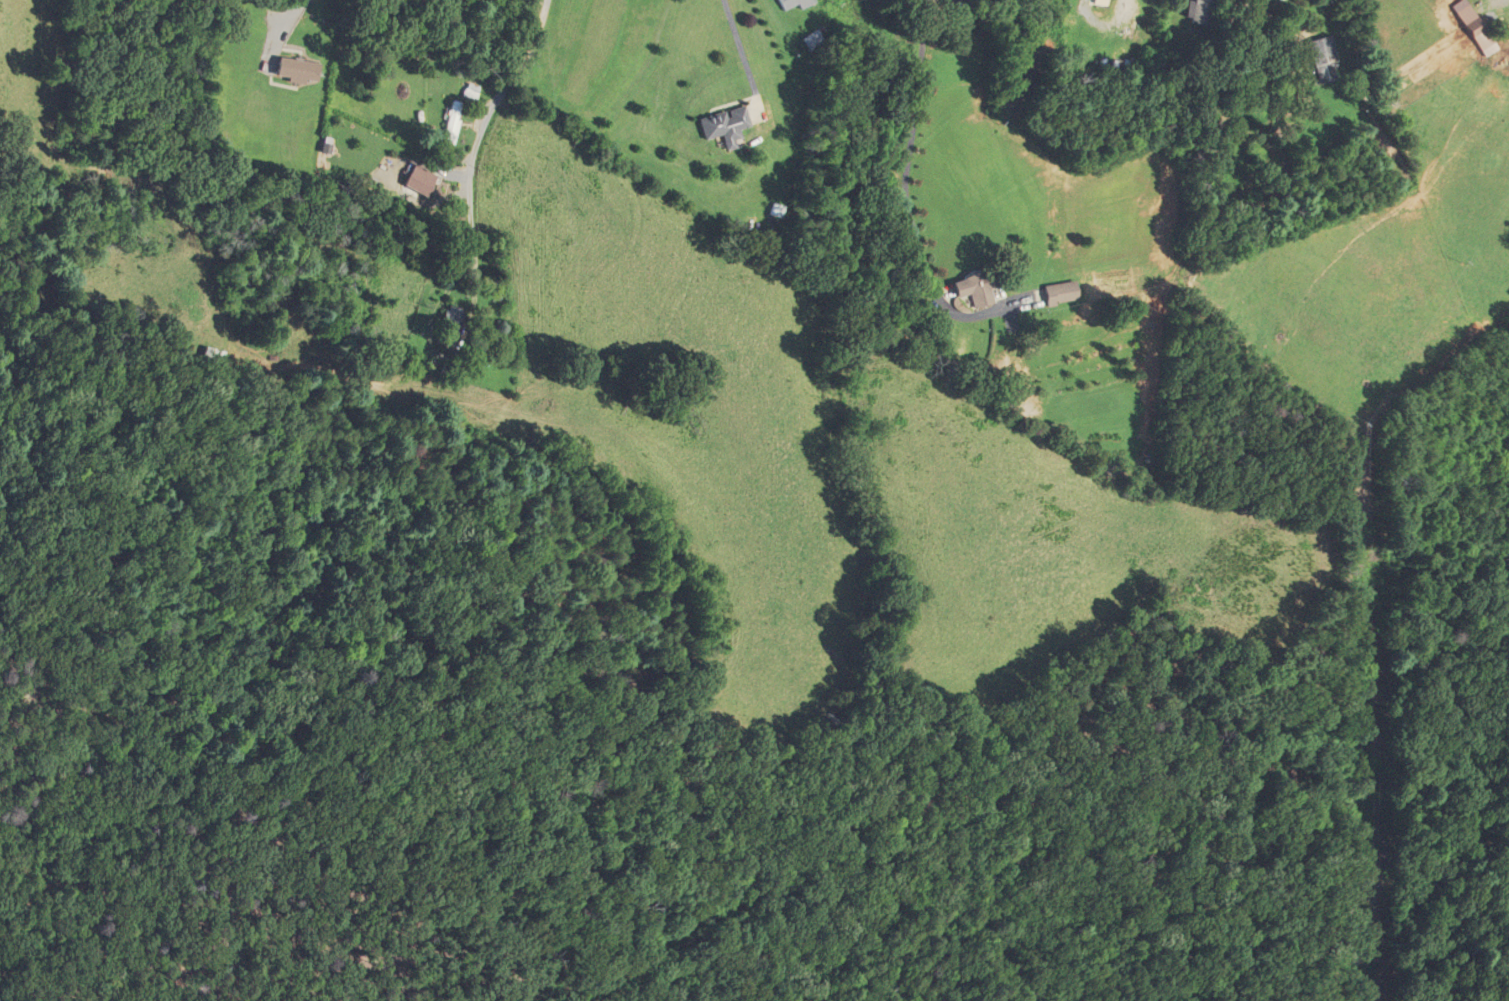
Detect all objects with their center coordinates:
building: (791, 3)
building: (1200, 11)
building: (1474, 28)
road: (744, 55)
building: (1323, 60)
building: (1123, 63)
building: (294, 70)
building: (469, 91)
building: (450, 121)
building: (723, 126)
road: (911, 147)
road: (474, 166)
building: (417, 180)
building: (977, 287)
building: (1060, 293)
building: (450, 325)
building: (1008, 391)

